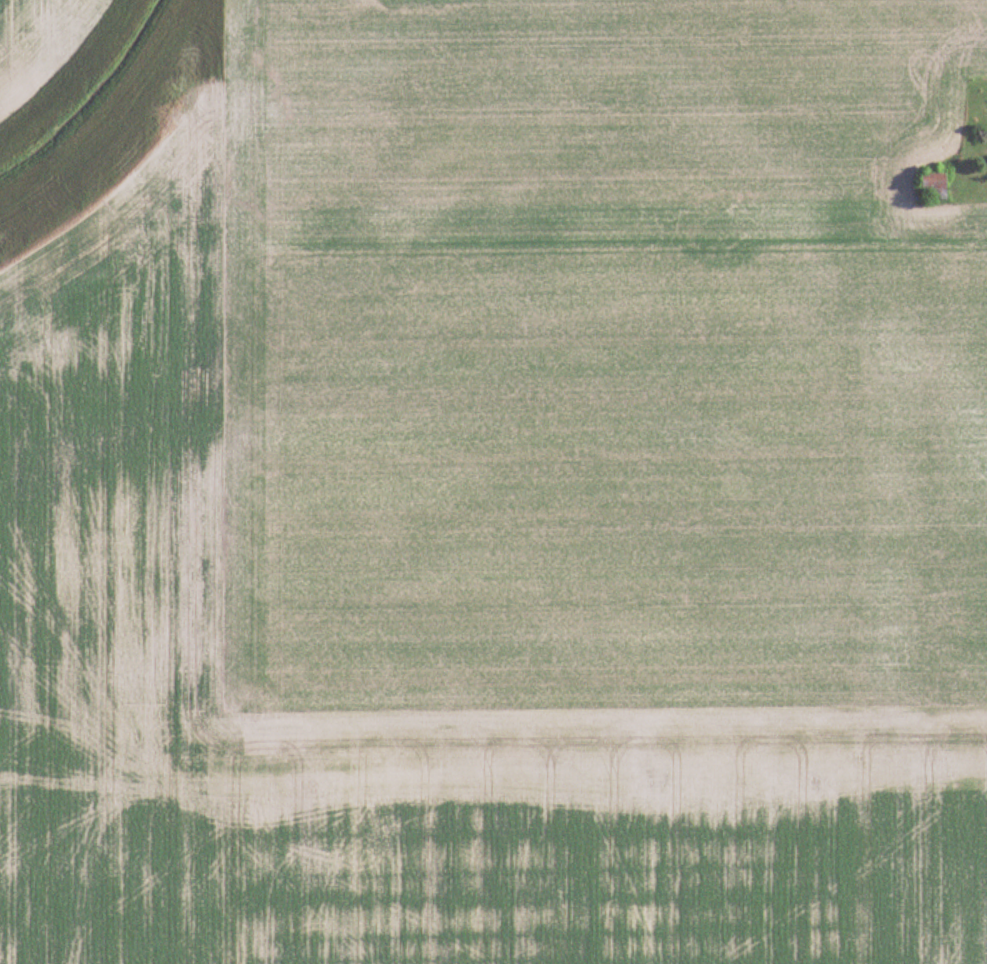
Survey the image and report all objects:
building: (934, 187)

